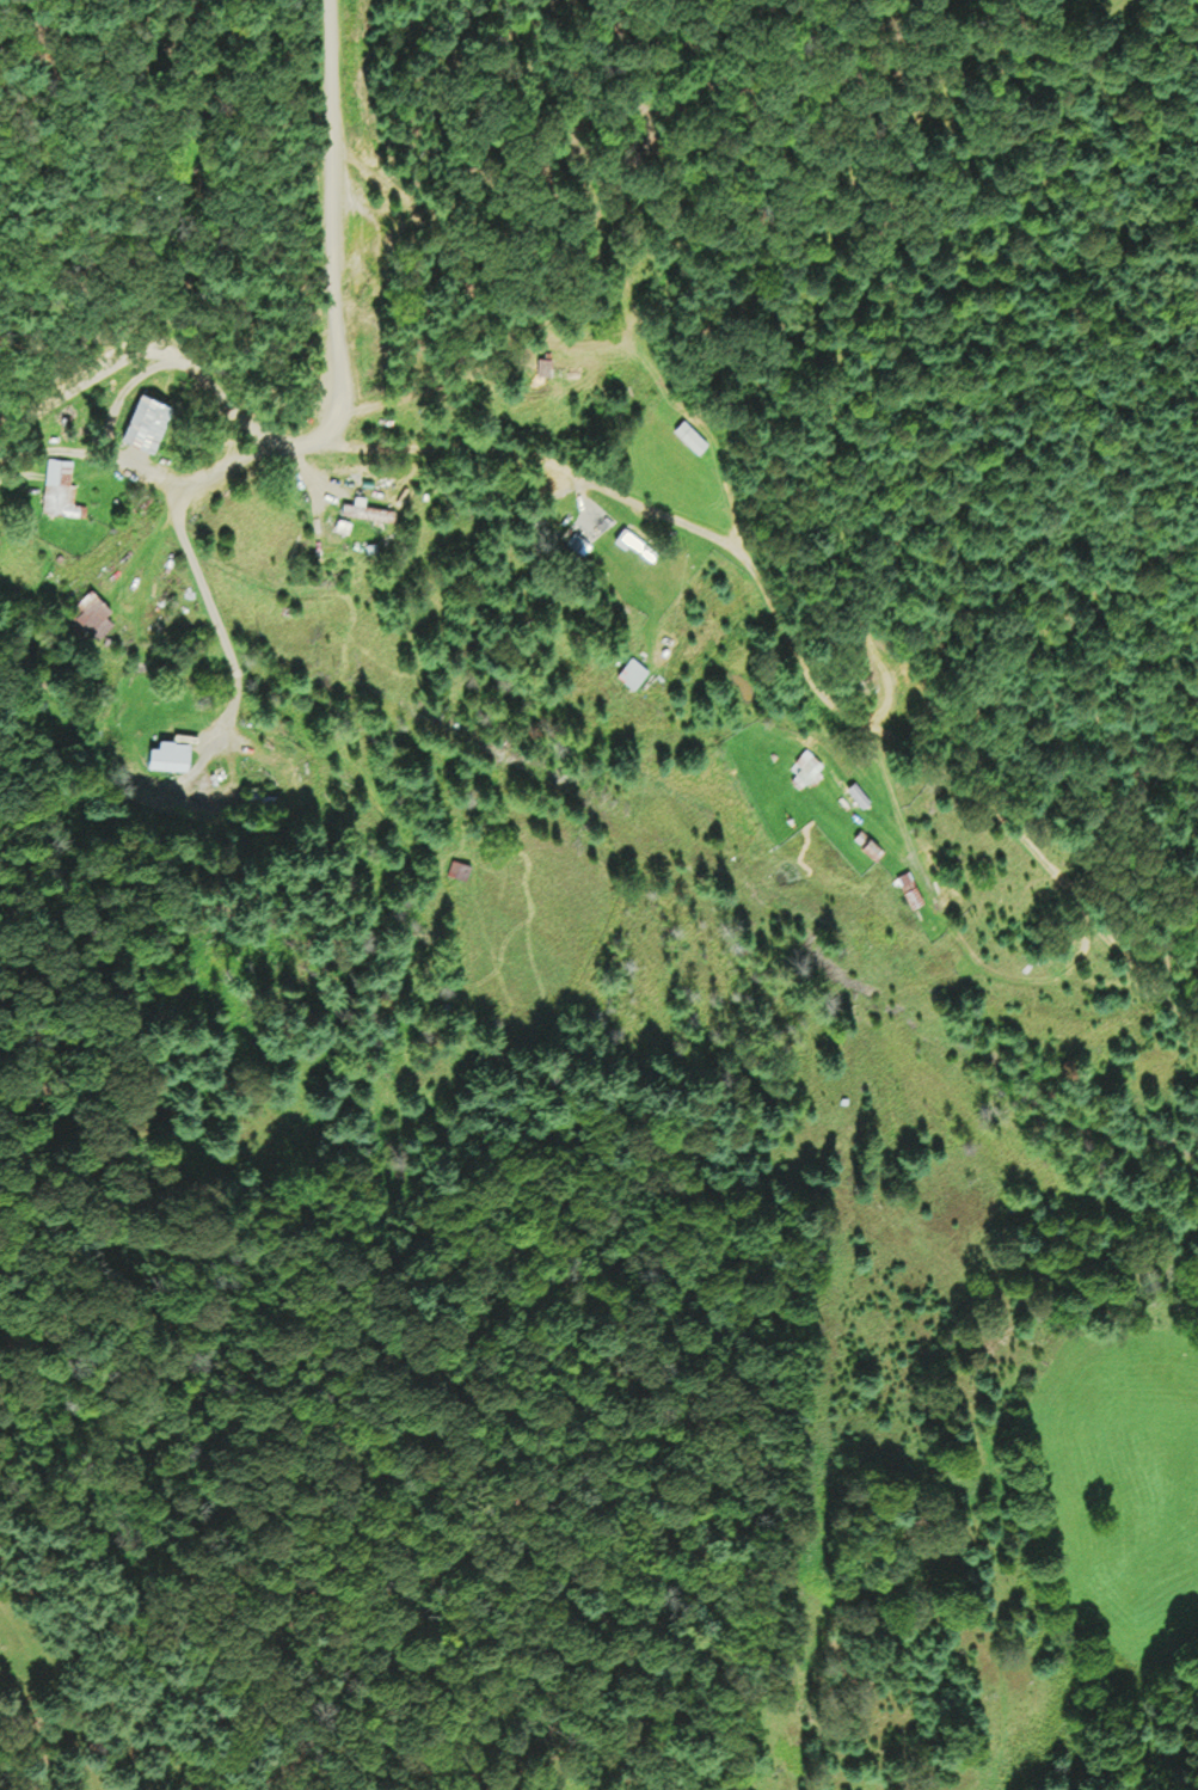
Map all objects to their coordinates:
road: (334, 222)
building: (548, 366)
building: (150, 419)
building: (694, 435)
road: (94, 456)
building: (60, 484)
building: (371, 508)
road: (695, 528)
building: (578, 538)
building: (640, 544)
road: (199, 571)
building: (91, 608)
building: (634, 670)
building: (172, 753)
building: (807, 768)
building: (262, 797)
building: (871, 841)
building: (460, 868)
building: (913, 887)

